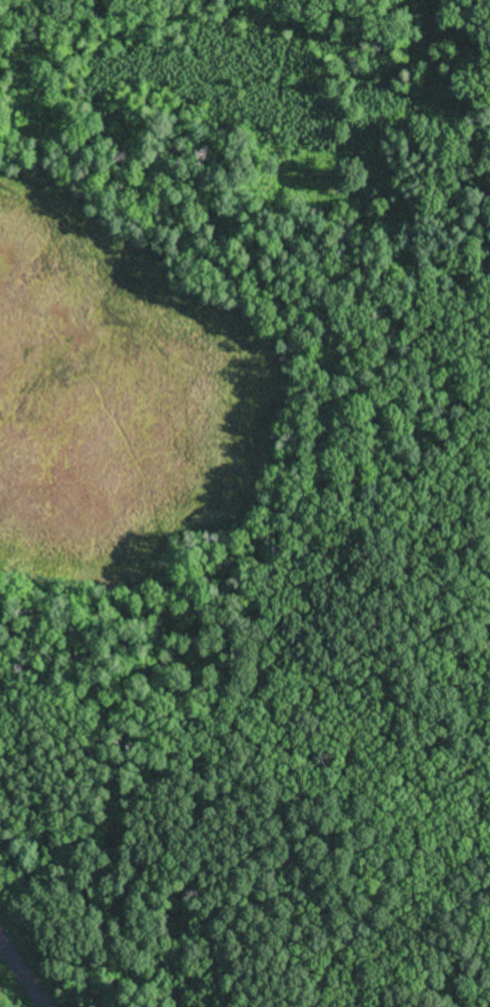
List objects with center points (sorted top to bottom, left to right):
road: (27, 966)

